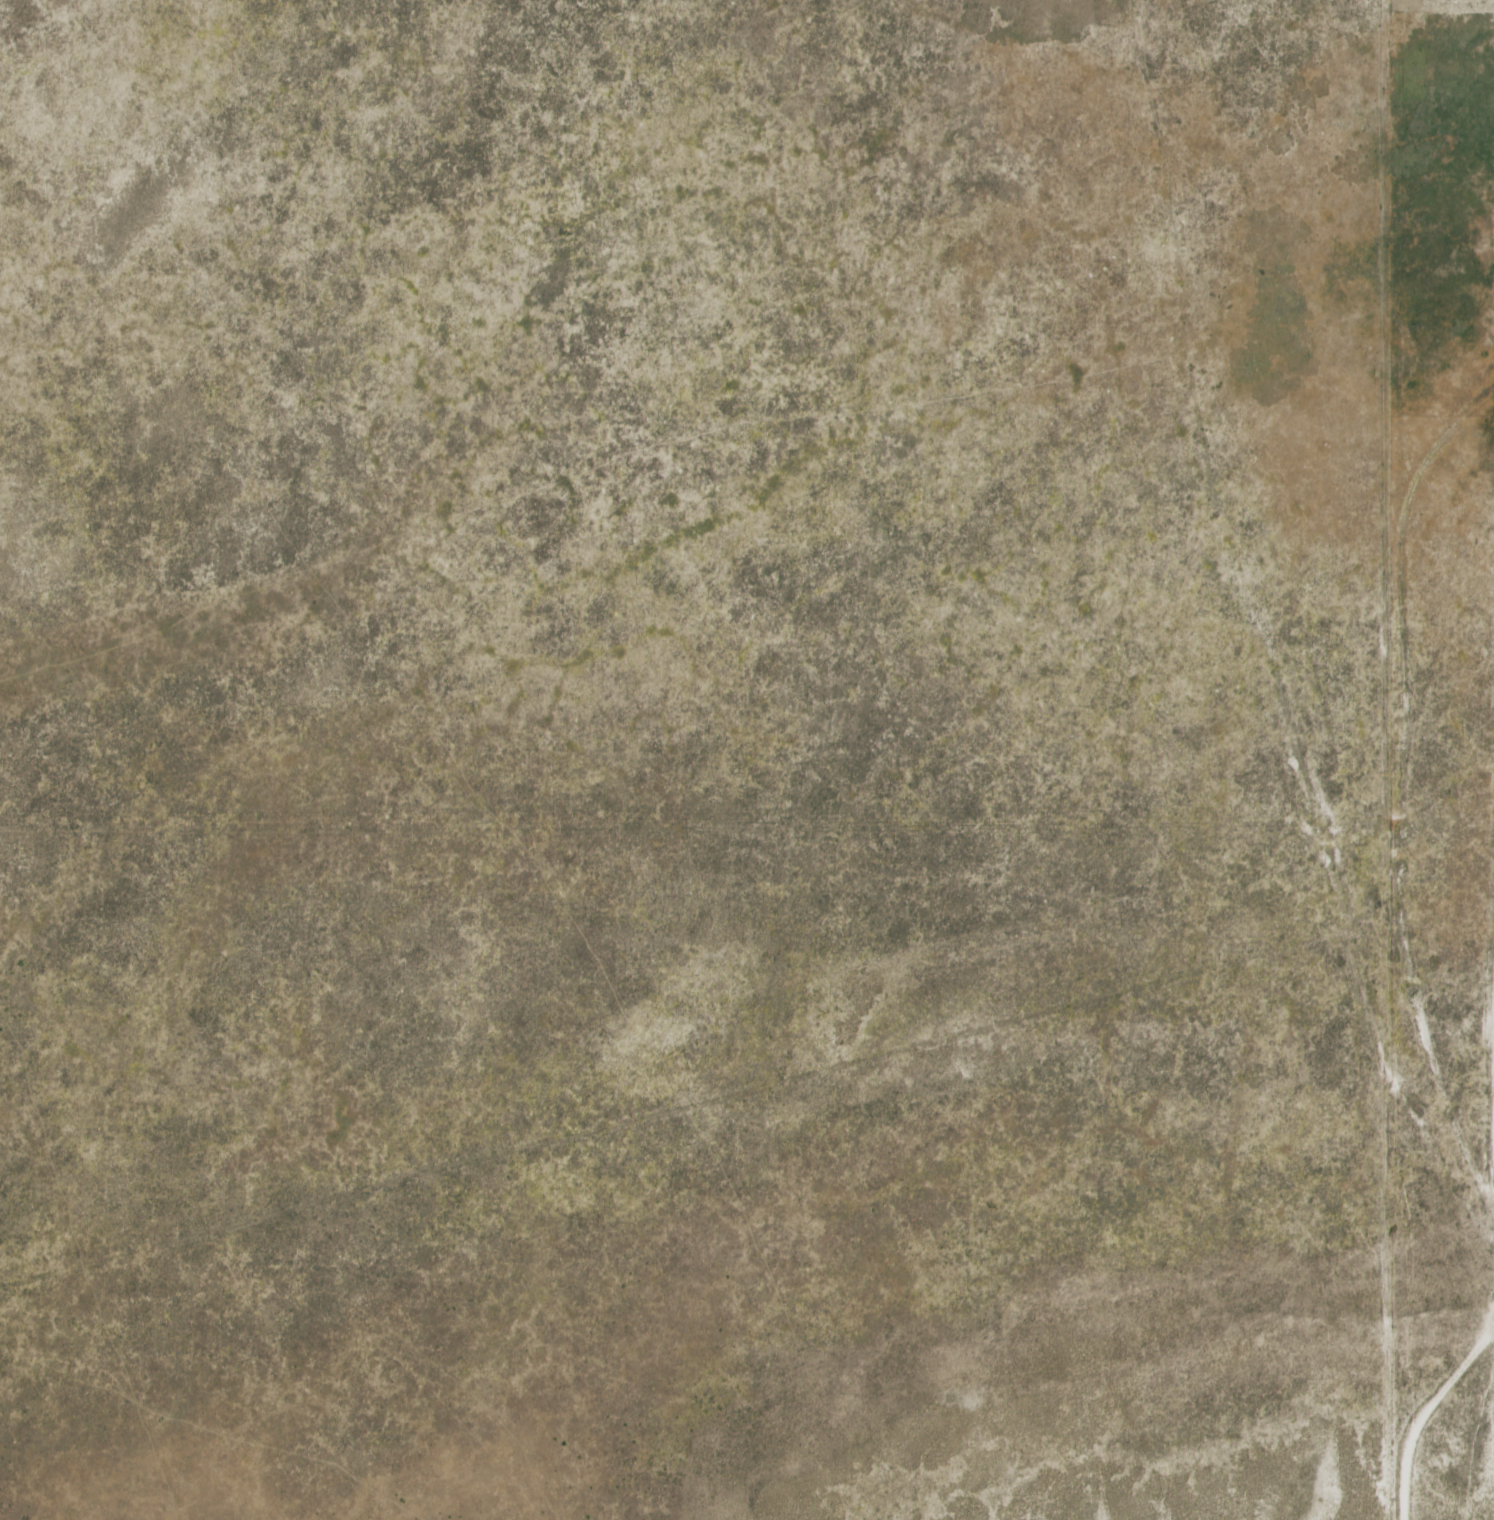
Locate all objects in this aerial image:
road: (1447, 772)
road: (1437, 1398)

